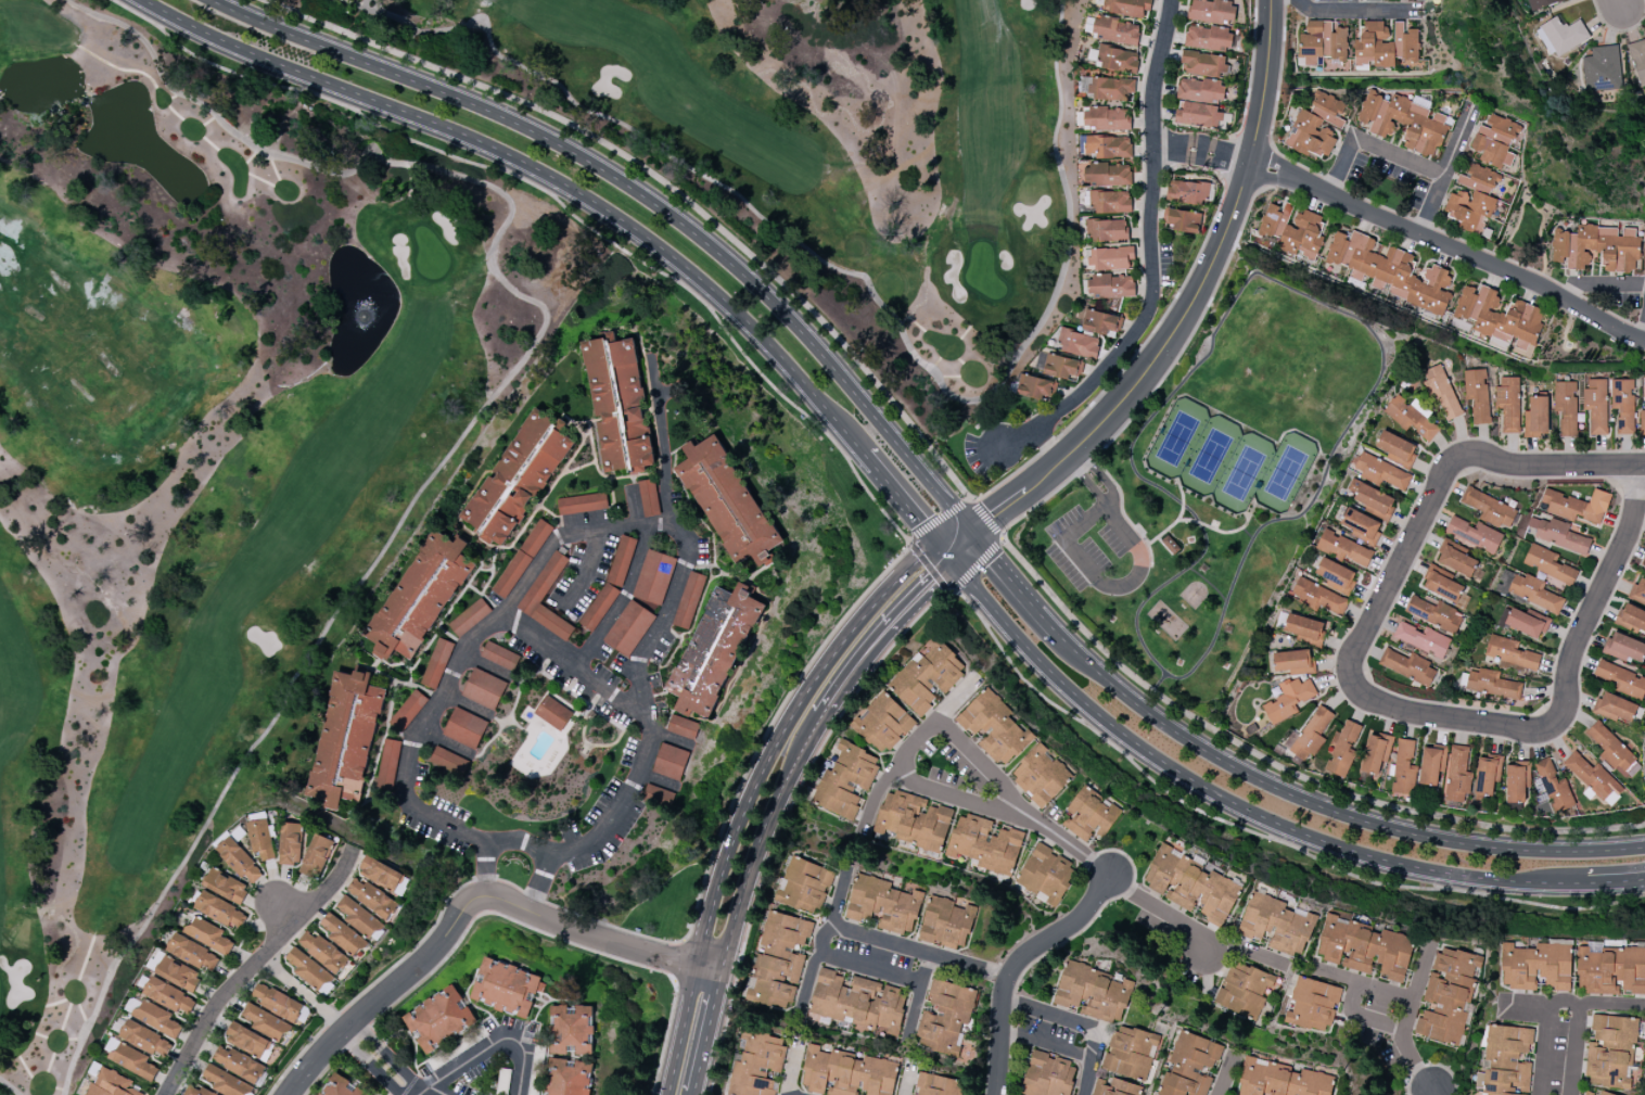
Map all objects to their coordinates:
building: (1540, 3)
road: (1619, 4)
building: (1128, 7)
road: (1332, 9)
building: (1211, 11)
road: (1390, 11)
building: (1115, 30)
building: (1560, 35)
building: (1208, 38)
building: (1323, 41)
building: (1386, 43)
building: (1638, 58)
building: (1117, 60)
building: (1202, 63)
building: (1602, 67)
building: (1111, 89)
building: (1200, 89)
building: (1198, 115)
building: (1105, 119)
building: (1403, 122)
building: (1317, 126)
park: (814, 137)
building: (1495, 141)
building: (1107, 147)
road: (1370, 147)
road: (1173, 148)
road: (1446, 170)
building: (1107, 174)
building: (1187, 191)
road: (643, 195)
building: (1472, 199)
building: (1109, 201)
building: (1183, 220)
building: (1292, 229)
building: (1106, 230)
road: (1420, 235)
building: (1596, 247)
building: (1109, 257)
road: (1153, 262)
building: (1390, 271)
road: (1601, 283)
building: (1110, 285)
road: (1190, 305)
building: (1499, 316)
building: (1100, 321)
road: (1643, 328)
building: (1077, 343)
building: (1060, 367)
building: (1035, 387)
building: (1441, 392)
building: (1477, 394)
building: (1644, 396)
building: (619, 403)
building: (1508, 404)
building: (1623, 405)
building: (1566, 406)
building: (1596, 406)
building: (1535, 417)
building: (1412, 418)
building: (1642, 422)
park: (213, 446)
building: (1397, 449)
park: (1228, 459)
building: (1380, 472)
road: (1446, 472)
park: (1221, 478)
building: (518, 480)
road: (887, 482)
building: (649, 497)
building: (1375, 501)
building: (583, 502)
building: (727, 502)
road: (967, 505)
building: (1577, 506)
road: (635, 507)
building: (1489, 508)
building: (1361, 525)
building: (1474, 534)
traffic signals: (972, 535)
building: (1561, 535)
traffic signals: (941, 547)
building: (1342, 548)
building: (522, 558)
building: (1456, 559)
building: (1643, 561)
traffic signals: (954, 564)
building: (1547, 564)
road: (1004, 572)
road: (585, 573)
building: (1336, 575)
road: (1133, 576)
building: (653, 577)
building: (544, 581)
building: (1442, 584)
building: (1638, 591)
building: (1534, 593)
building: (420, 597)
building: (1317, 597)
building: (688, 600)
road: (615, 601)
building: (1436, 613)
building: (469, 617)
building: (1631, 617)
road: (893, 621)
road: (1046, 621)
building: (1527, 622)
building: (628, 628)
building: (1304, 628)
building: (1423, 639)
building: (1624, 647)
building: (714, 650)
building: (1510, 652)
building: (500, 655)
building: (1293, 662)
building: (436, 663)
building: (1407, 666)
road: (575, 675)
building: (927, 676)
building: (1622, 679)
building: (1492, 684)
building: (484, 688)
building: (1288, 699)
building: (1615, 708)
building: (409, 709)
road: (1564, 710)
building: (552, 712)
building: (882, 723)
building: (466, 727)
building: (683, 727)
building: (995, 727)
road: (922, 734)
building: (1309, 735)
building: (346, 739)
building: (1342, 749)
building: (1614, 751)
building: (1375, 753)
building: (449, 761)
building: (671, 761)
building: (387, 764)
building: (1431, 764)
building: (1404, 767)
building: (1457, 774)
building: (1487, 774)
building: (1041, 775)
road: (755, 776)
building: (1594, 778)
building: (845, 780)
building: (1517, 780)
building: (1554, 787)
road: (1325, 807)
building: (1089, 814)
road: (785, 820)
building: (913, 820)
building: (260, 838)
road: (761, 838)
building: (291, 843)
building: (983, 843)
road: (535, 846)
building: (317, 855)
building: (240, 861)
road: (484, 873)
building: (381, 874)
building: (1046, 875)
road: (539, 882)
building: (804, 884)
building: (226, 886)
building: (1191, 886)
building: (371, 897)
road: (1149, 901)
building: (883, 904)
building: (220, 911)
building: (360, 919)
building: (946, 924)
building: (1277, 924)
building: (208, 934)
building: (342, 934)
road: (607, 940)
road: (827, 942)
building: (1365, 947)
building: (322, 951)
building: (192, 952)
road: (921, 952)
building: (780, 959)
road: (1016, 965)
road: (255, 966)
building: (1536, 966)
road: (872, 969)
road: (1423, 969)
building: (310, 970)
building: (1610, 970)
building: (178, 973)
road: (1363, 983)
building: (508, 988)
building: (1245, 989)
road: (387, 991)
building: (1092, 992)
building: (169, 995)
building: (1448, 995)
road: (919, 999)
building: (277, 1002)
building: (858, 1002)
building: (1311, 1003)
road: (1550, 1003)
building: (157, 1018)
building: (439, 1018)
building: (266, 1021)
road: (1578, 1024)
road: (1079, 1026)
building: (571, 1030)
road: (711, 1031)
building: (145, 1039)
building: (246, 1040)
road: (493, 1048)
road: (1407, 1048)
building: (1130, 1052)
building: (1611, 1052)
building: (132, 1060)
road: (381, 1060)
building: (1505, 1060)
building: (238, 1062)
building: (757, 1065)
building: (1189, 1066)
road: (794, 1067)
building: (846, 1073)
road: (1227, 1074)
building: (1048, 1075)
building: (570, 1078)
road: (910, 1078)
building: (1281, 1080)
building: (226, 1082)
building: (112, 1084)
building: (936, 1085)
building: (341, 1086)
building: (1114, 1087)
building: (196, 1091)
road: (437, 1092)
building: (1587, 1093)
road: (697, 1094)
road: (1431, 1094)

